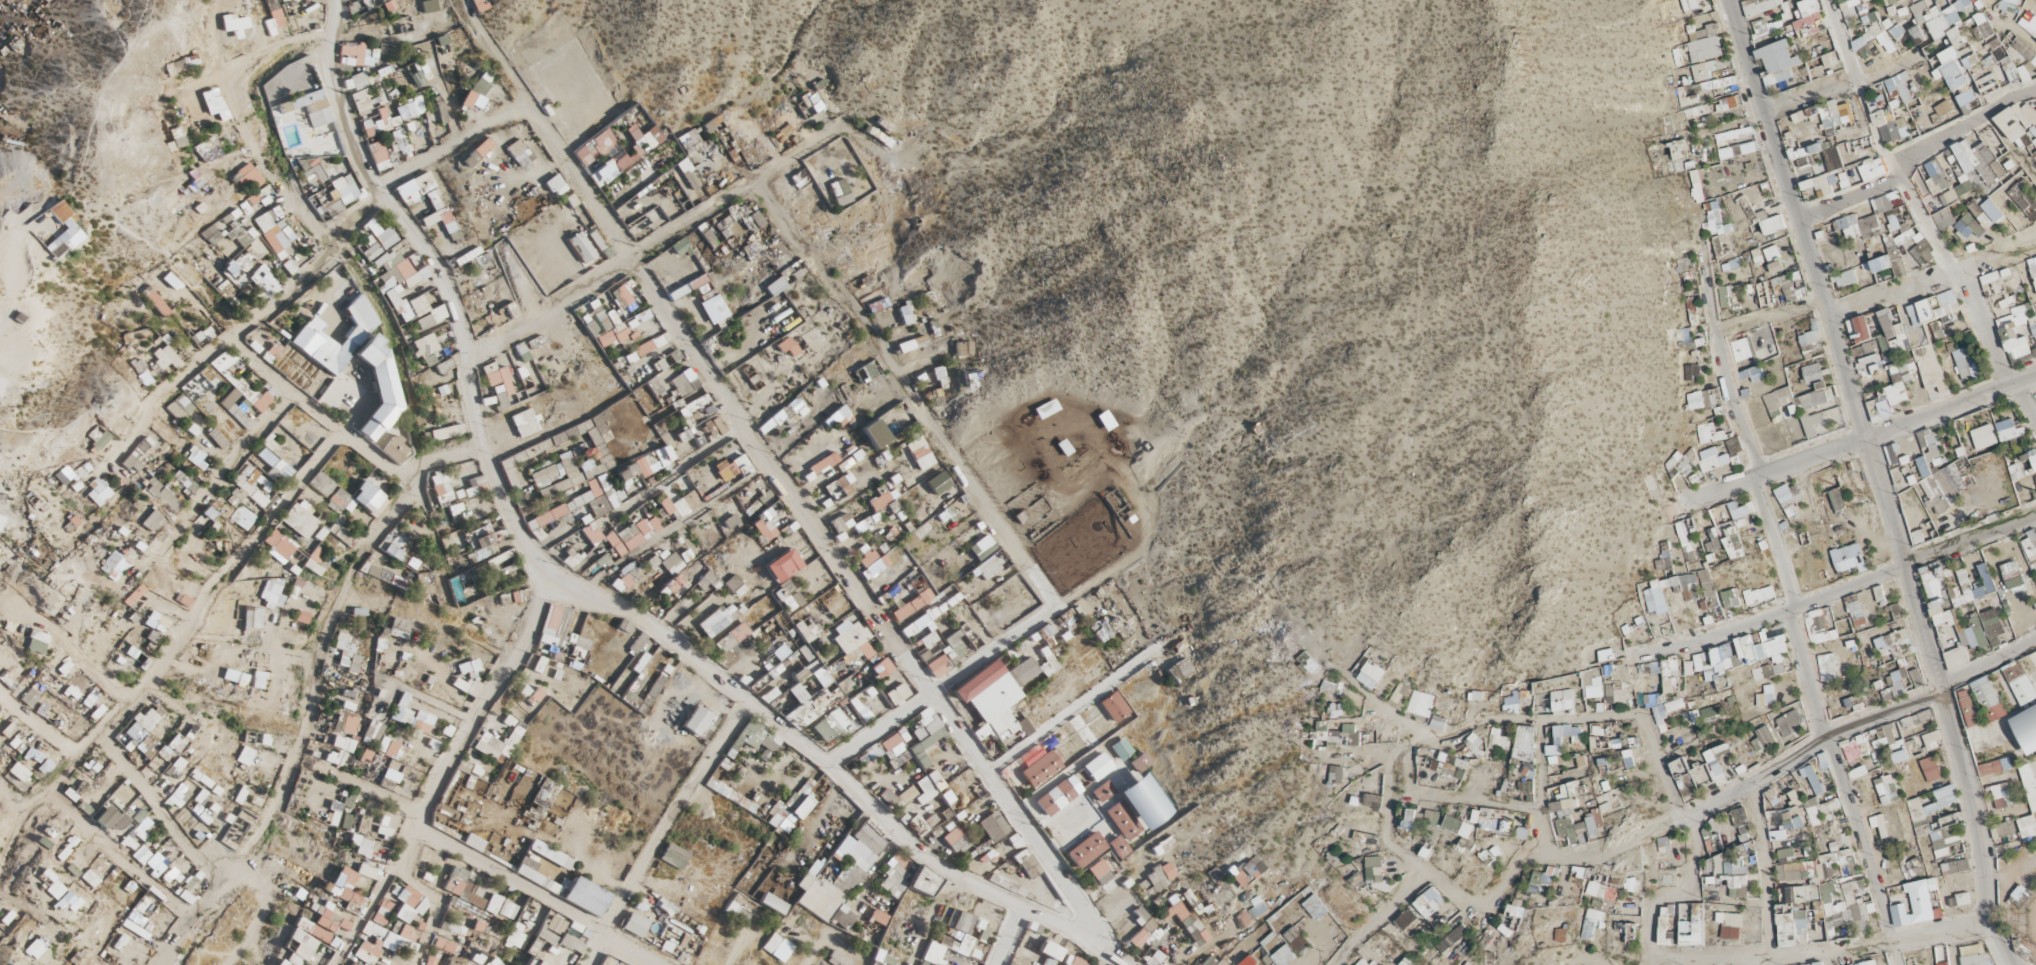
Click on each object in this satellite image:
park: (2031, 916)

